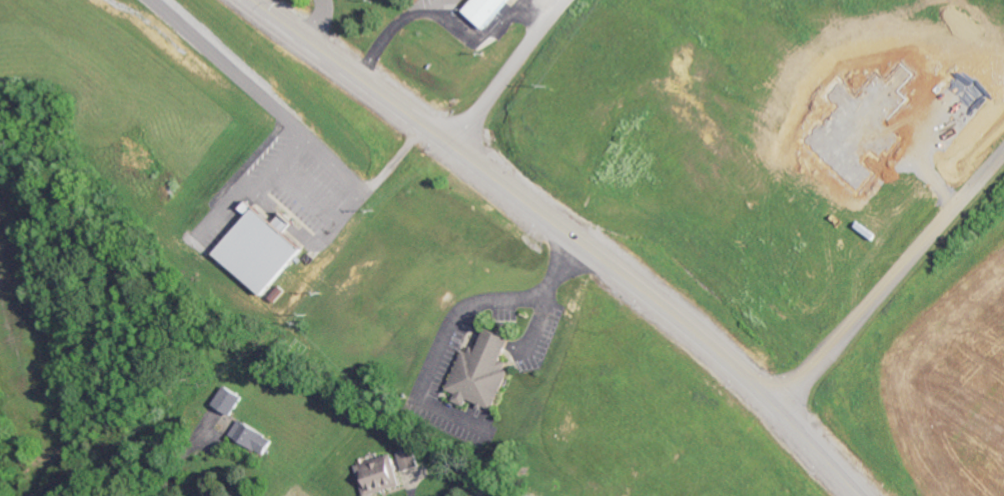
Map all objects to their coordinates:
building: (484, 9)
road: (506, 73)
road: (572, 232)
building: (260, 247)
road: (890, 278)
park: (294, 347)
building: (482, 370)
building: (229, 399)
building: (253, 436)
building: (408, 457)
building: (377, 474)

